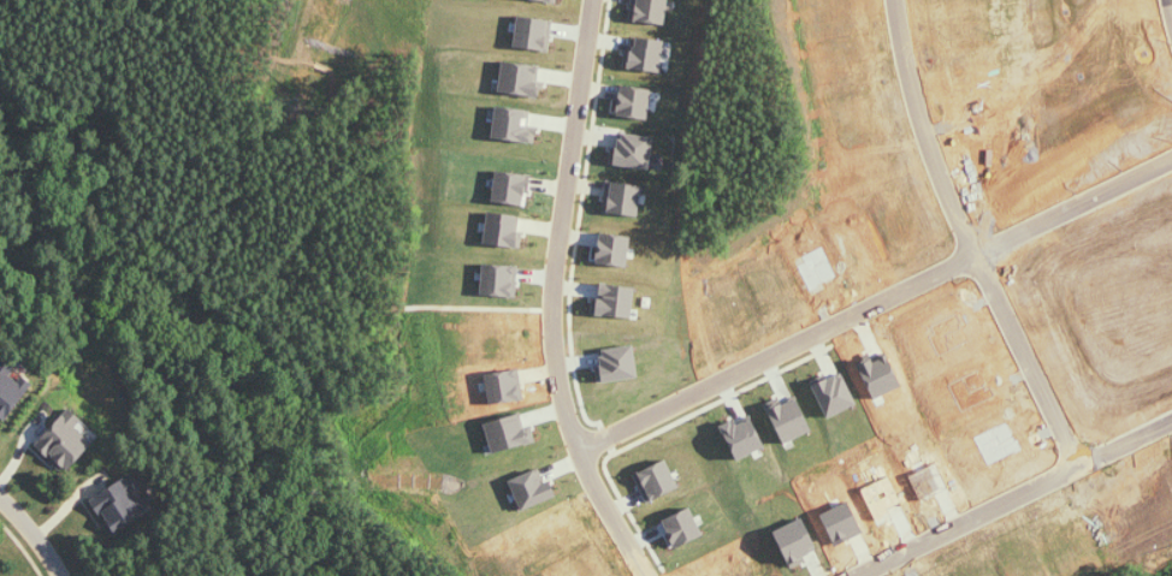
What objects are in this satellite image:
building: (650, 11)
building: (646, 54)
building: (634, 102)
building: (633, 152)
building: (623, 198)
road: (563, 297)
road: (880, 297)
road: (1026, 351)
building: (7, 390)
building: (65, 440)
road: (1126, 444)
building: (122, 503)
road: (36, 532)

